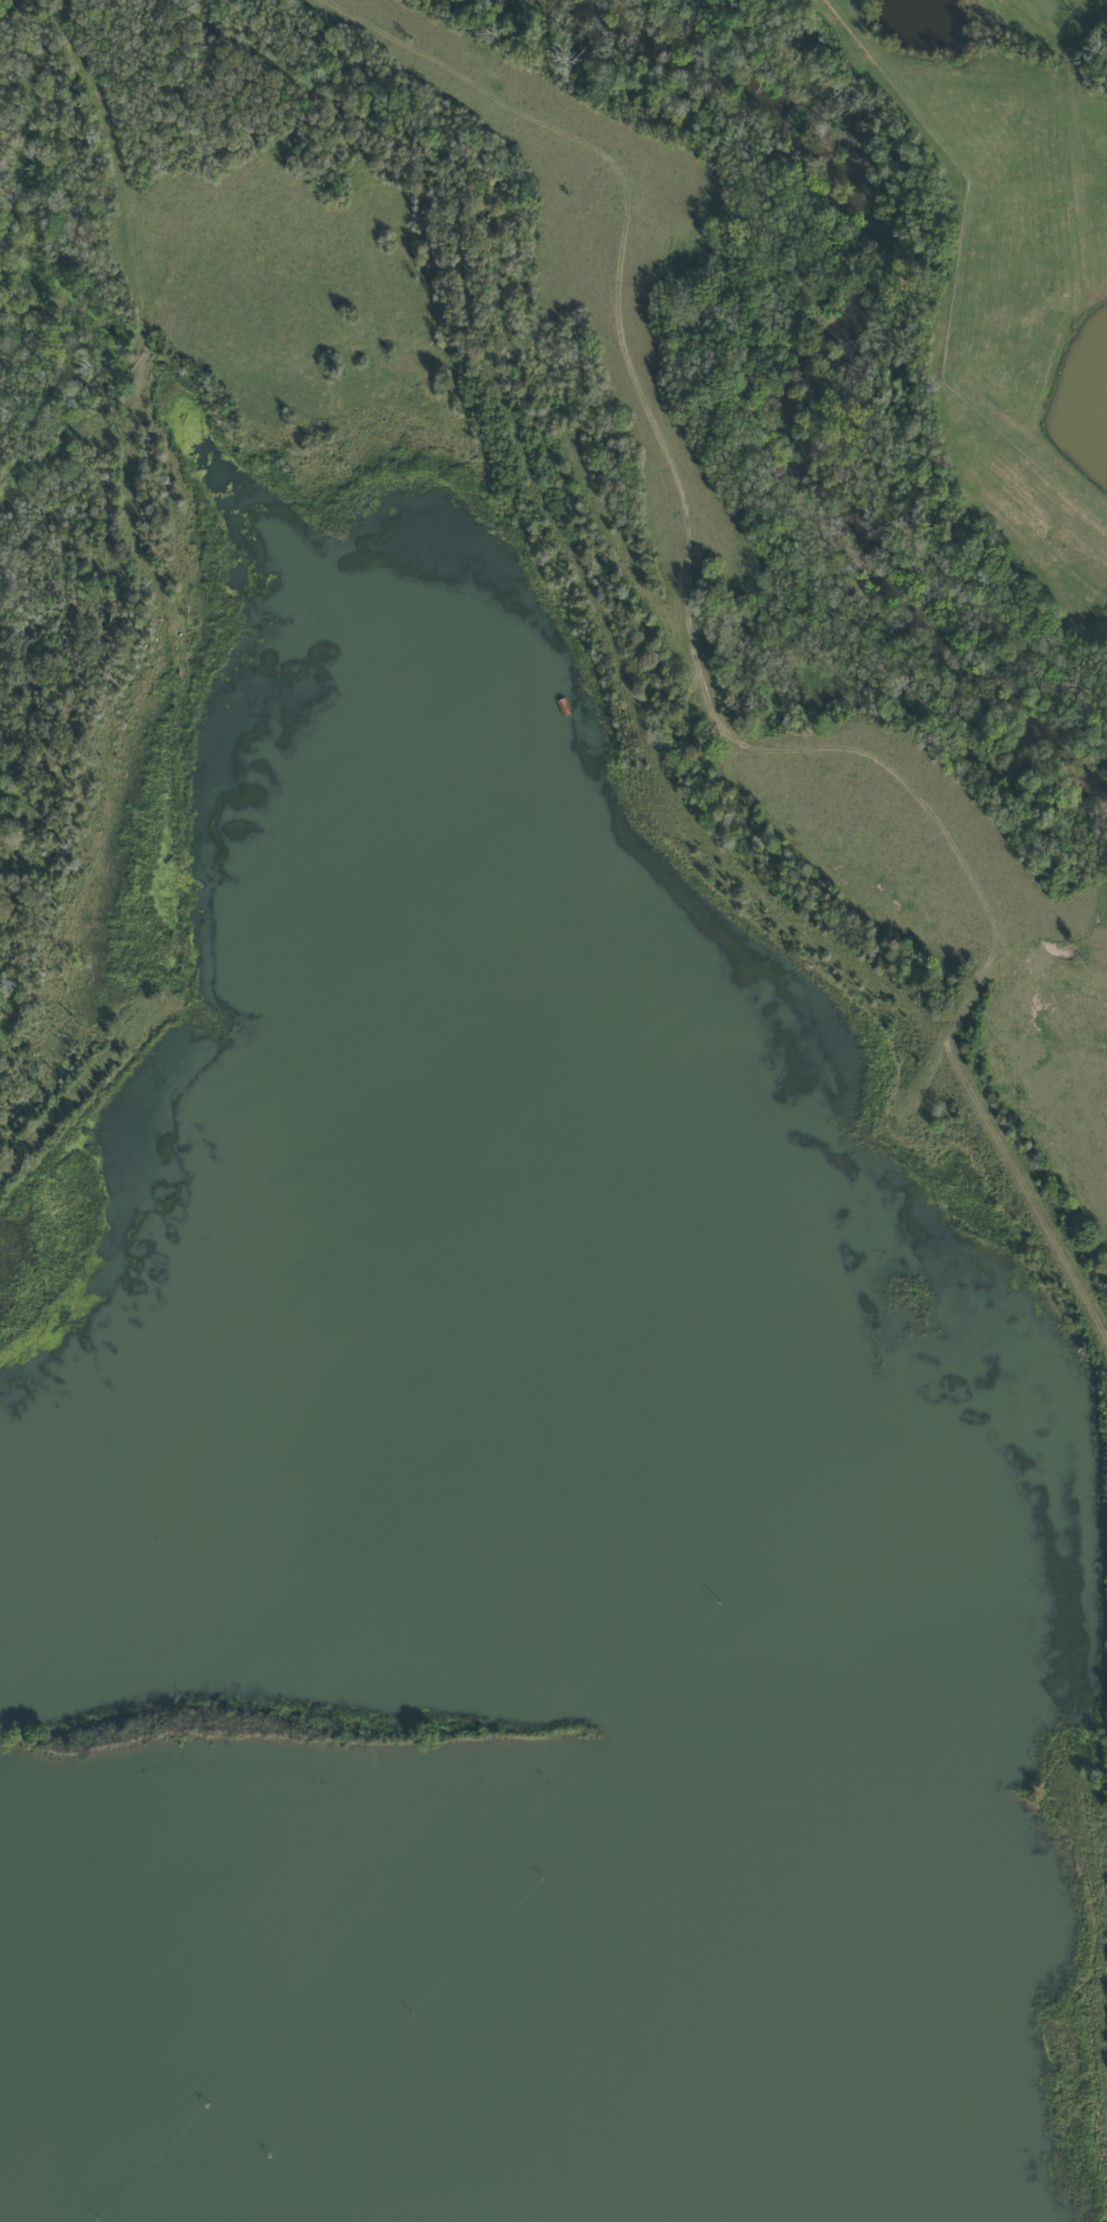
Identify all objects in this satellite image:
river: (816, 378)

